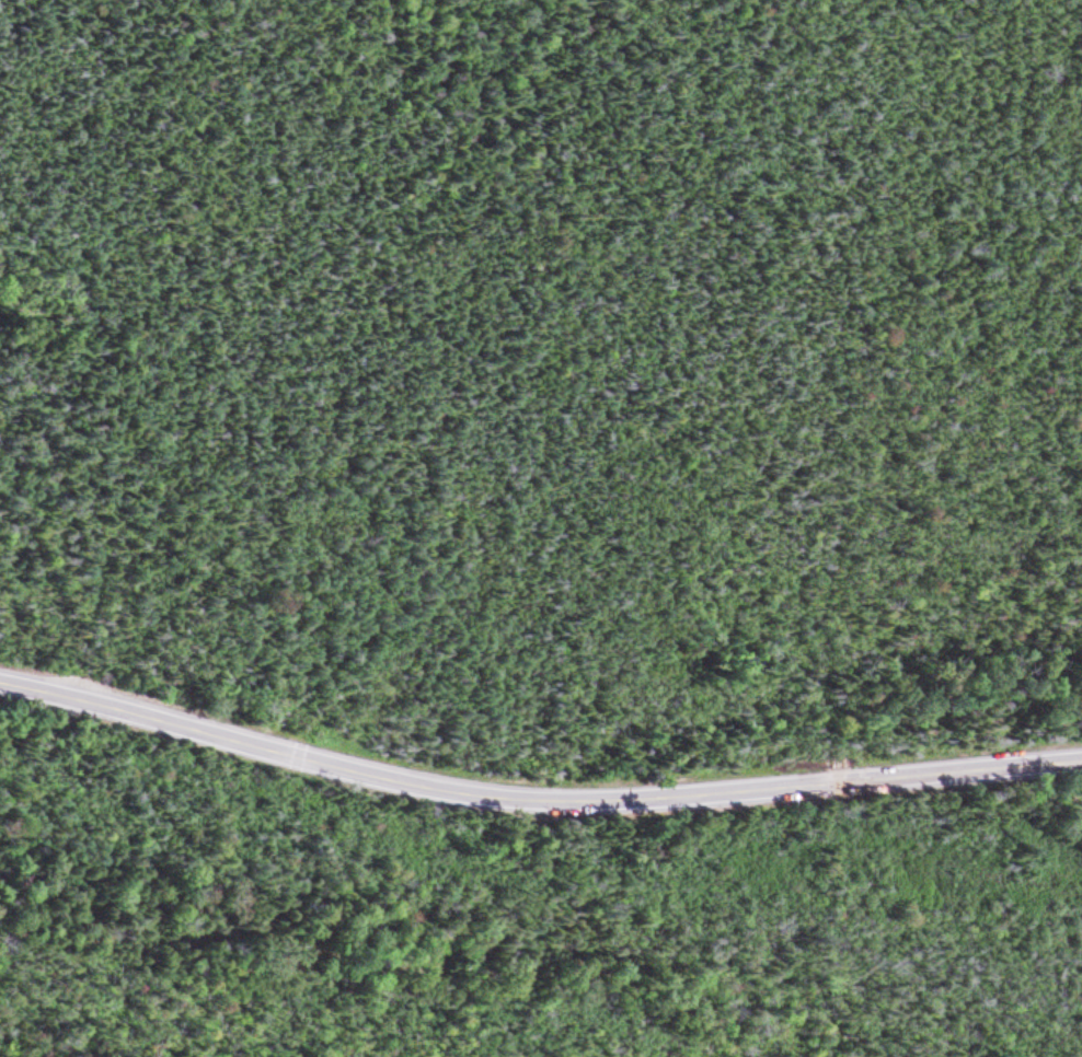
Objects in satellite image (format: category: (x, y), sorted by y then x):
road: (534, 801)

